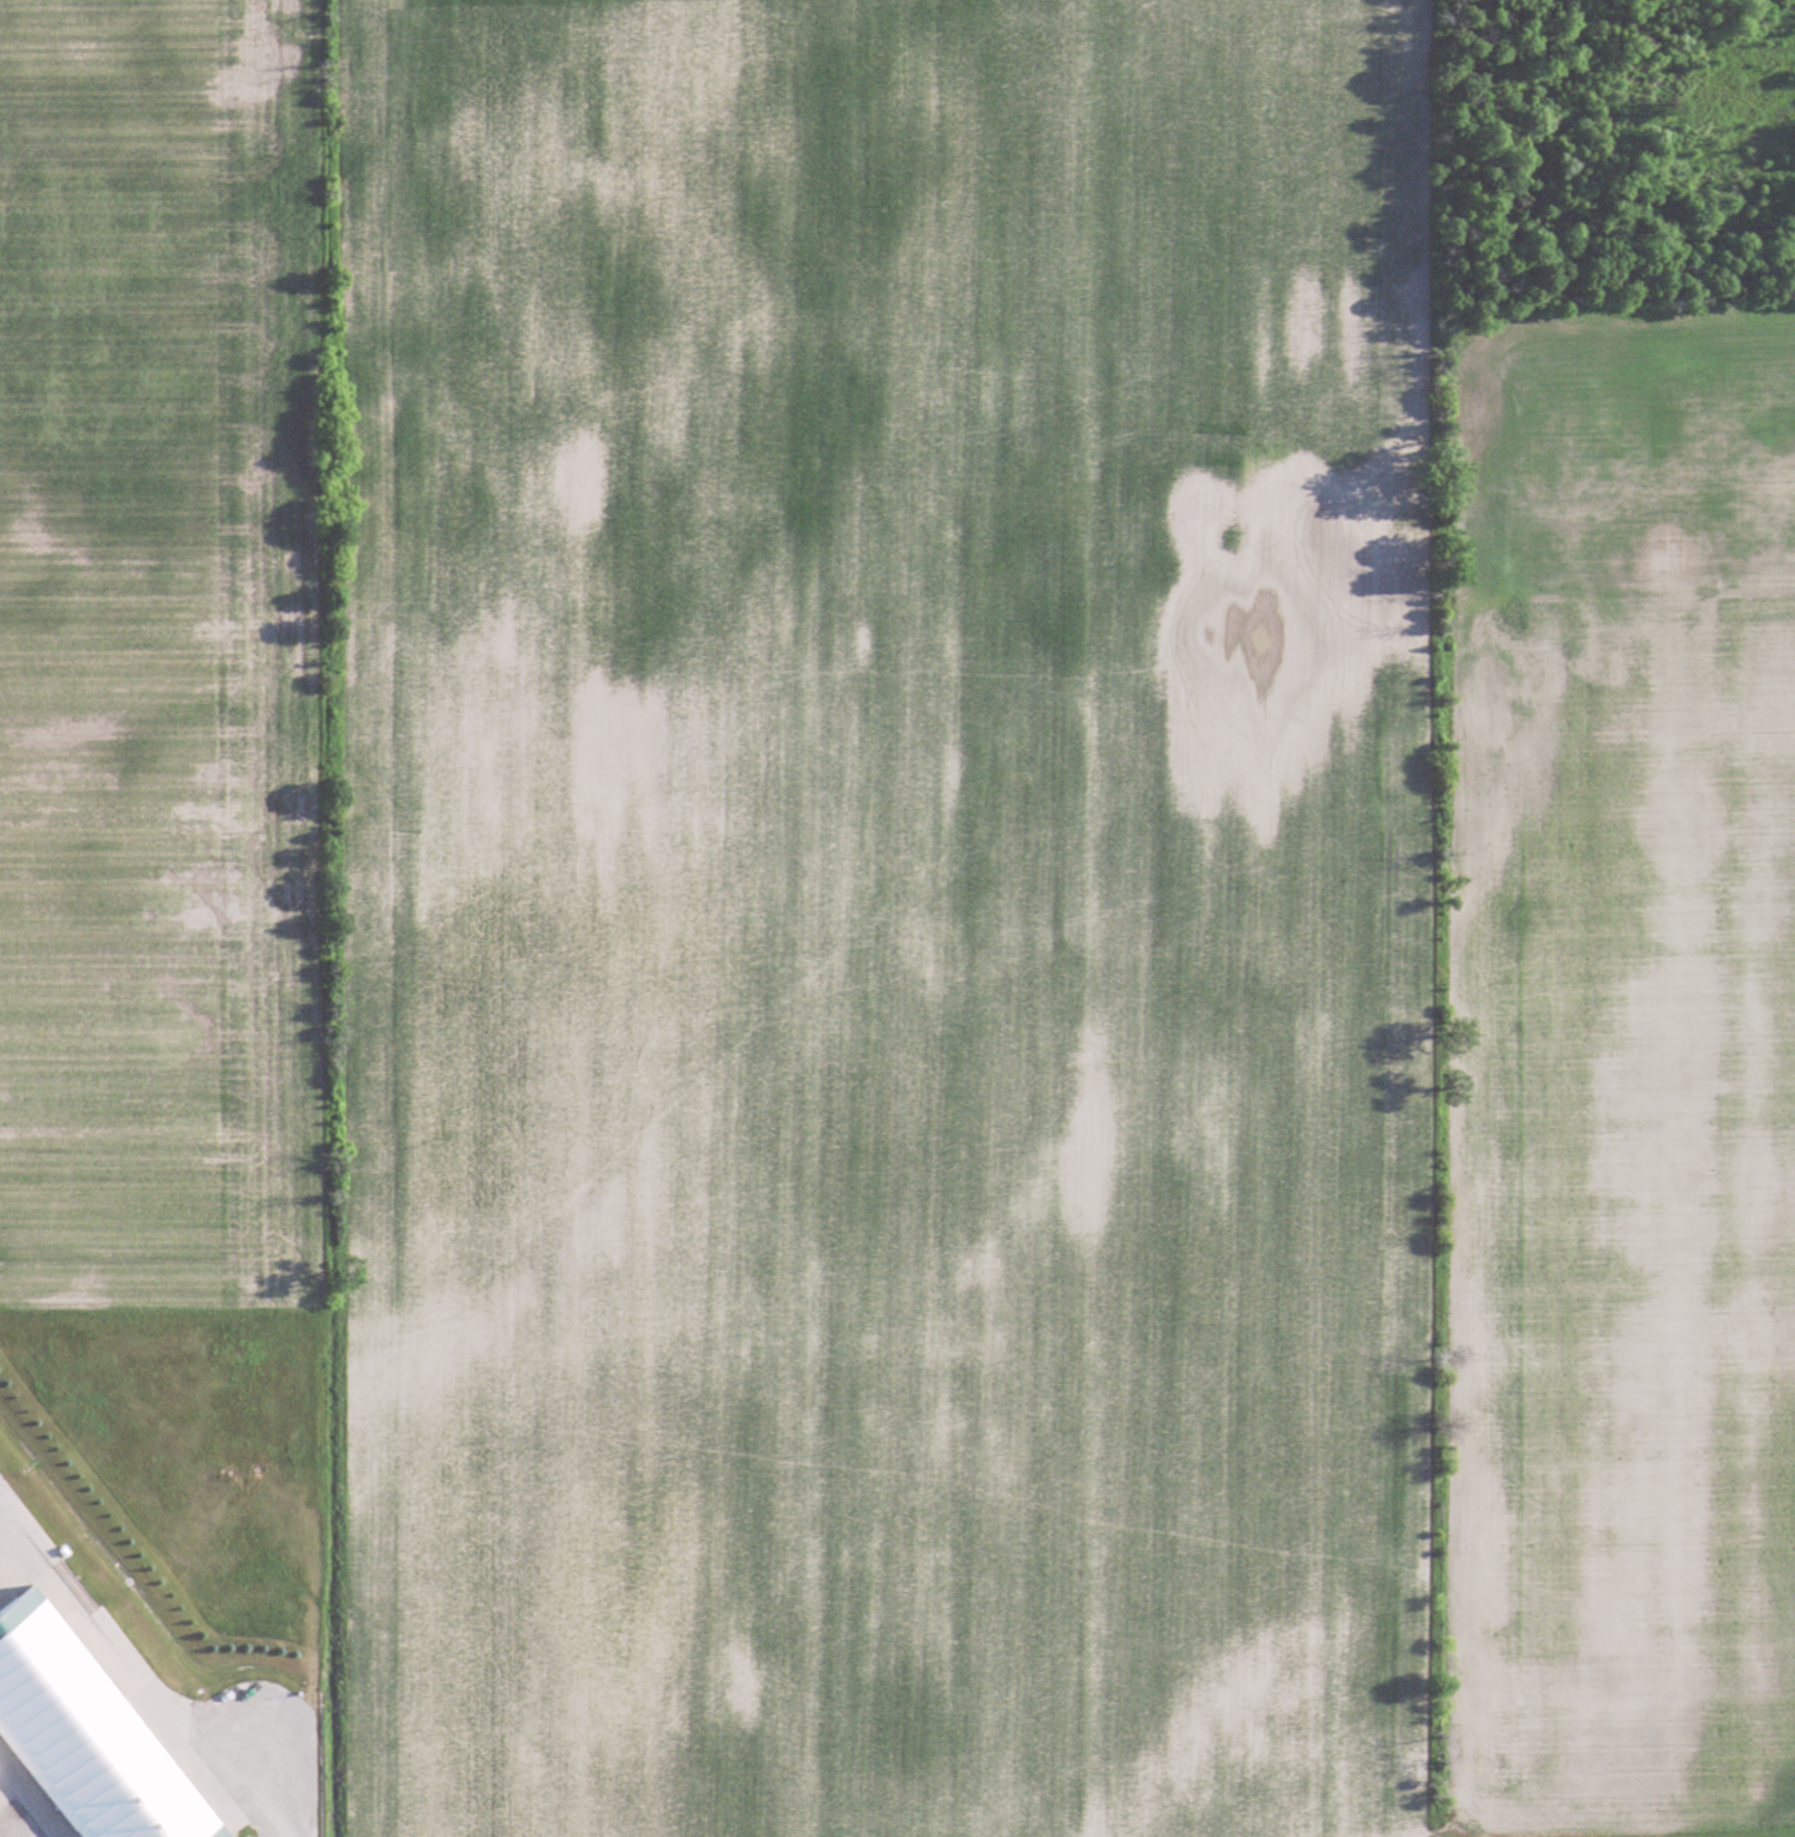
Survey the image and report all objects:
road: (302, 1797)
road: (291, 1830)

